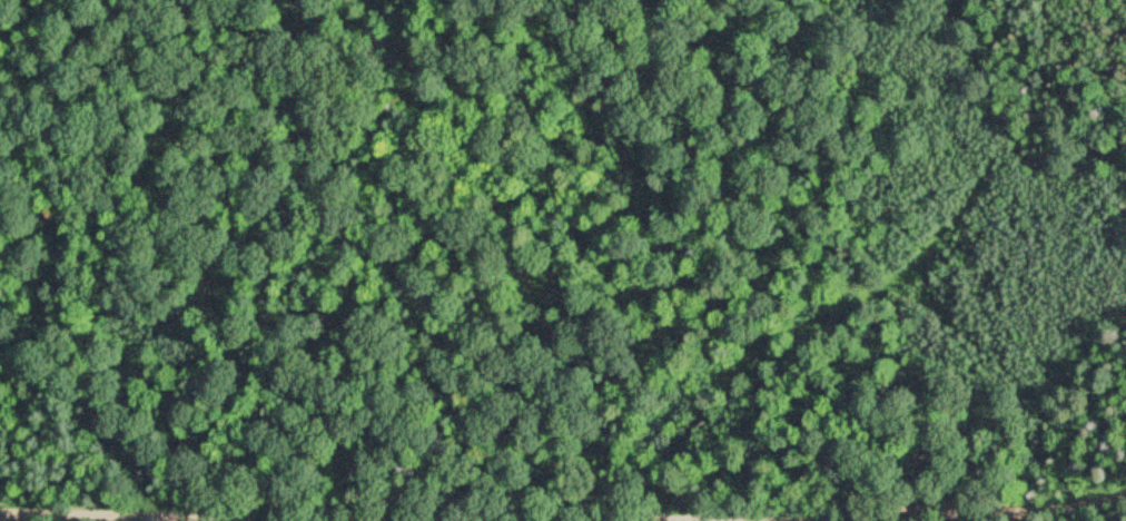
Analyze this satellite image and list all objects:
park: (563, 260)
road: (96, 517)
road: (892, 517)

